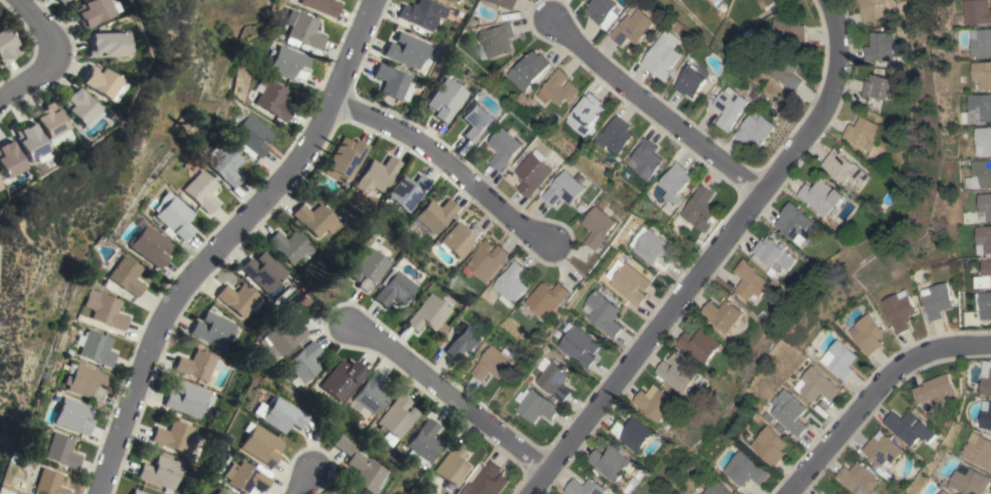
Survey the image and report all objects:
building: (758, 0)
building: (62, 2)
building: (770, 2)
building: (508, 3)
building: (322, 6)
building: (878, 9)
building: (604, 10)
building: (90, 11)
building: (976, 12)
building: (422, 13)
building: (636, 28)
building: (303, 30)
building: (789, 30)
building: (496, 40)
building: (980, 42)
building: (104, 45)
building: (6, 46)
building: (884, 46)
building: (406, 50)
road: (43, 53)
building: (664, 58)
building: (289, 64)
building: (785, 69)
building: (528, 70)
building: (981, 75)
building: (695, 80)
building: (391, 81)
building: (99, 83)
building: (884, 86)
building: (558, 88)
building: (273, 99)
building: (444, 99)
building: (78, 107)
building: (732, 107)
building: (977, 108)
road: (660, 111)
building: (586, 115)
building: (47, 120)
building: (475, 122)
building: (757, 129)
building: (866, 132)
building: (249, 133)
building: (614, 135)
building: (983, 141)
building: (28, 142)
building: (504, 148)
building: (646, 159)
building: (7, 160)
building: (346, 160)
building: (225, 163)
road: (450, 165)
building: (848, 170)
building: (534, 172)
building: (377, 175)
building: (979, 175)
building: (674, 186)
building: (566, 189)
building: (202, 191)
building: (408, 192)
building: (825, 196)
building: (984, 207)
building: (699, 210)
building: (174, 215)
building: (435, 215)
building: (315, 219)
building: (799, 223)
building: (600, 227)
building: (460, 239)
building: (983, 239)
road: (232, 242)
building: (149, 244)
building: (288, 245)
building: (654, 249)
building: (778, 253)
road: (720, 259)
building: (486, 260)
building: (363, 269)
building: (262, 271)
building: (983, 275)
building: (126, 276)
building: (754, 282)
building: (511, 283)
building: (630, 284)
building: (389, 288)
building: (237, 298)
building: (547, 298)
building: (936, 300)
building: (984, 305)
building: (104, 309)
building: (898, 310)
building: (602, 313)
building: (427, 314)
building: (726, 314)
building: (212, 329)
building: (281, 333)
building: (867, 334)
building: (466, 341)
building: (578, 345)
building: (704, 345)
building: (94, 347)
building: (839, 359)
building: (302, 361)
building: (494, 363)
building: (198, 365)
building: (682, 373)
building: (986, 378)
building: (339, 379)
building: (553, 379)
building: (83, 382)
building: (816, 385)
building: (936, 389)
building: (369, 393)
building: (187, 399)
road: (882, 399)
road: (455, 400)
building: (658, 403)
building: (534, 405)
building: (788, 412)
building: (275, 414)
building: (986, 415)
building: (71, 416)
building: (396, 417)
building: (910, 427)
building: (637, 433)
building: (175, 436)
building: (423, 443)
building: (339, 444)
building: (258, 445)
building: (768, 446)
building: (977, 450)
building: (59, 451)
building: (884, 455)
building: (613, 463)
building: (454, 465)
building: (744, 469)
building: (160, 472)
building: (360, 472)
building: (242, 478)
building: (859, 478)
building: (969, 480)
building: (487, 481)
building: (44, 483)
road: (304, 486)
building: (589, 487)
building: (716, 489)
building: (136, 492)
building: (212, 492)
building: (218, 492)
building: (943, 492)
building: (838, 493)
building: (840, 493)

